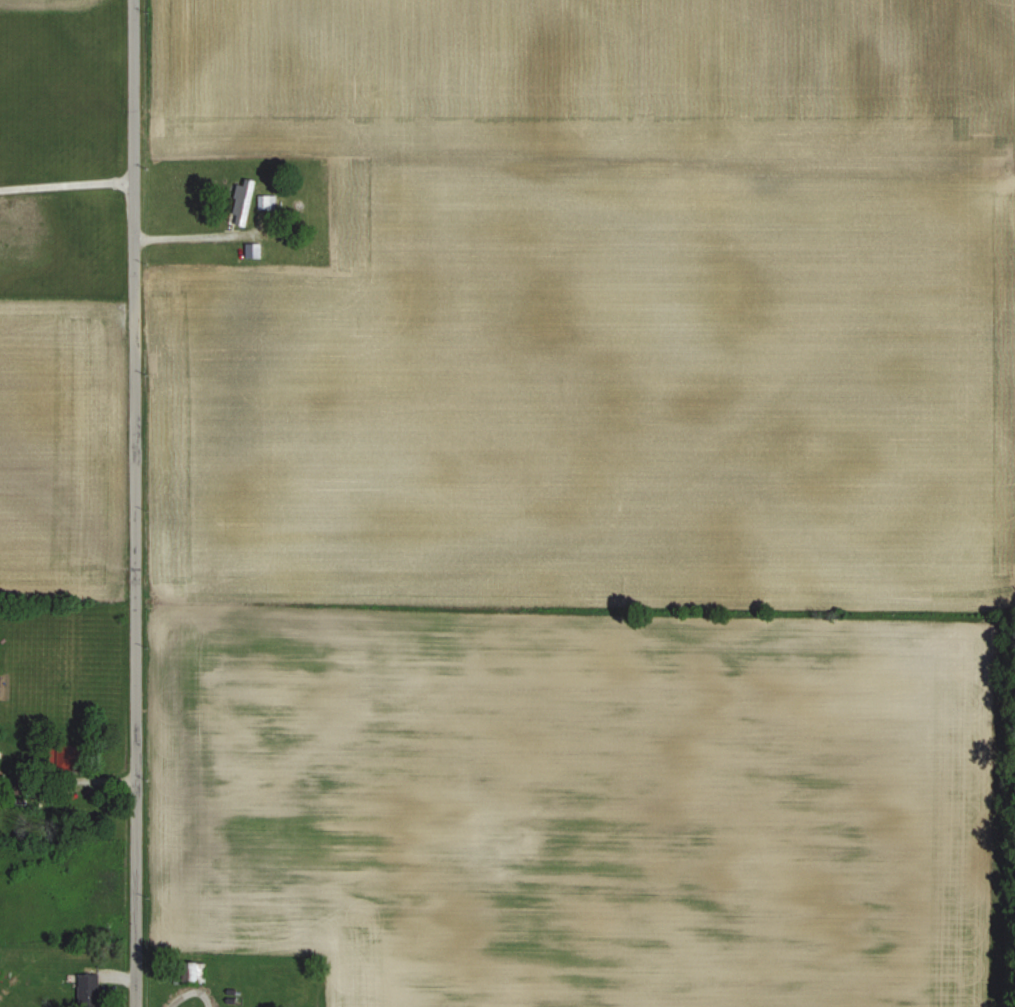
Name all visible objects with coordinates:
road: (67, 181)
building: (241, 202)
building: (265, 202)
road: (134, 503)
building: (63, 758)
building: (22, 785)
building: (187, 974)
building: (86, 991)

